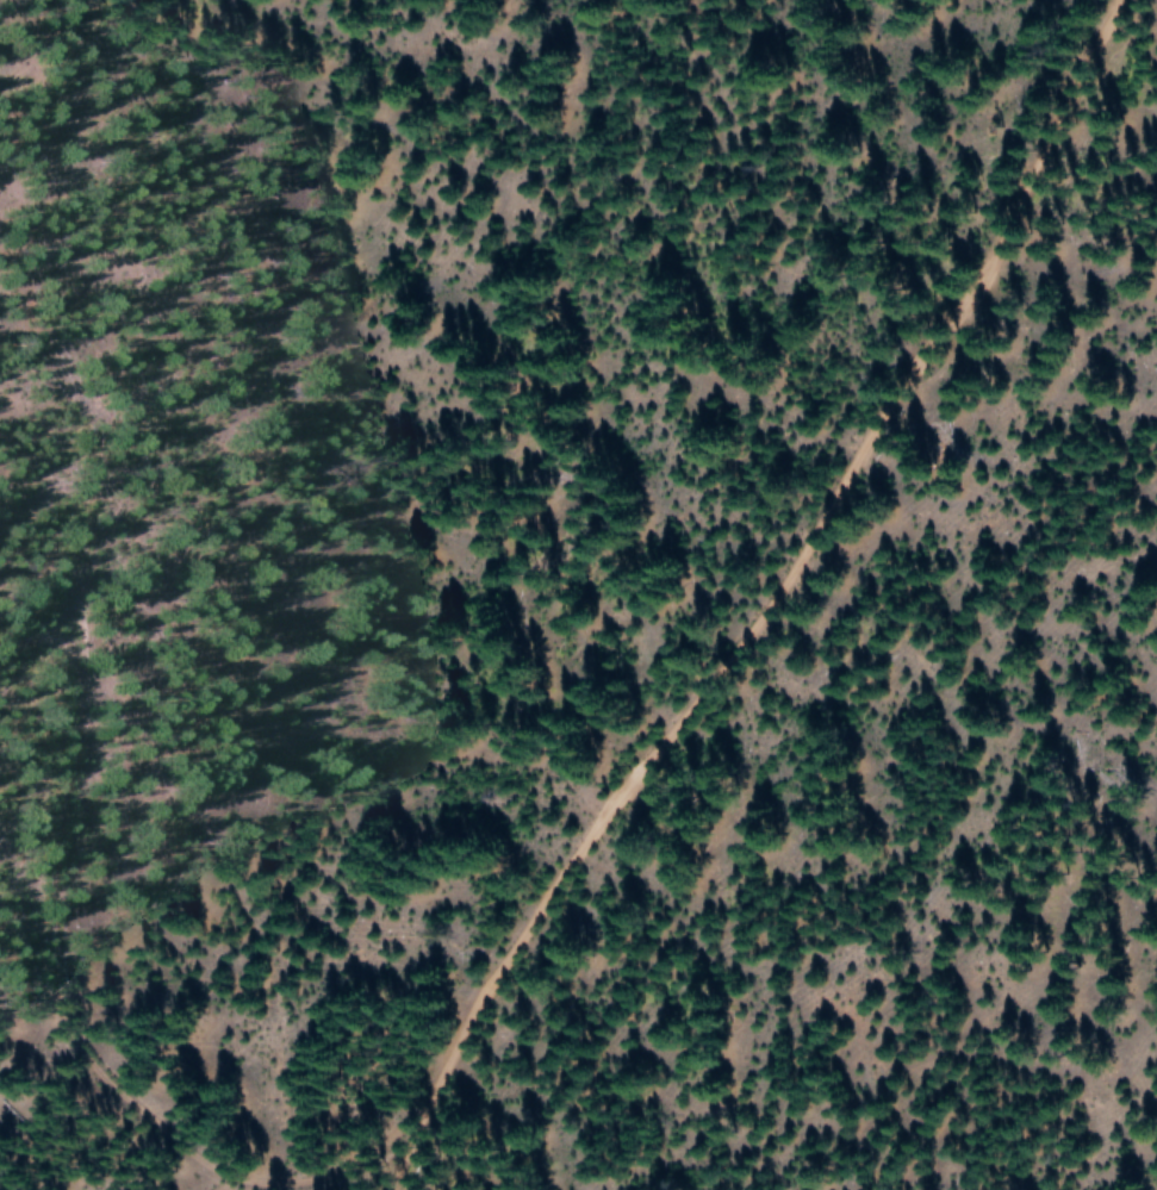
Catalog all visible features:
road: (796, 599)
road: (114, 1022)

